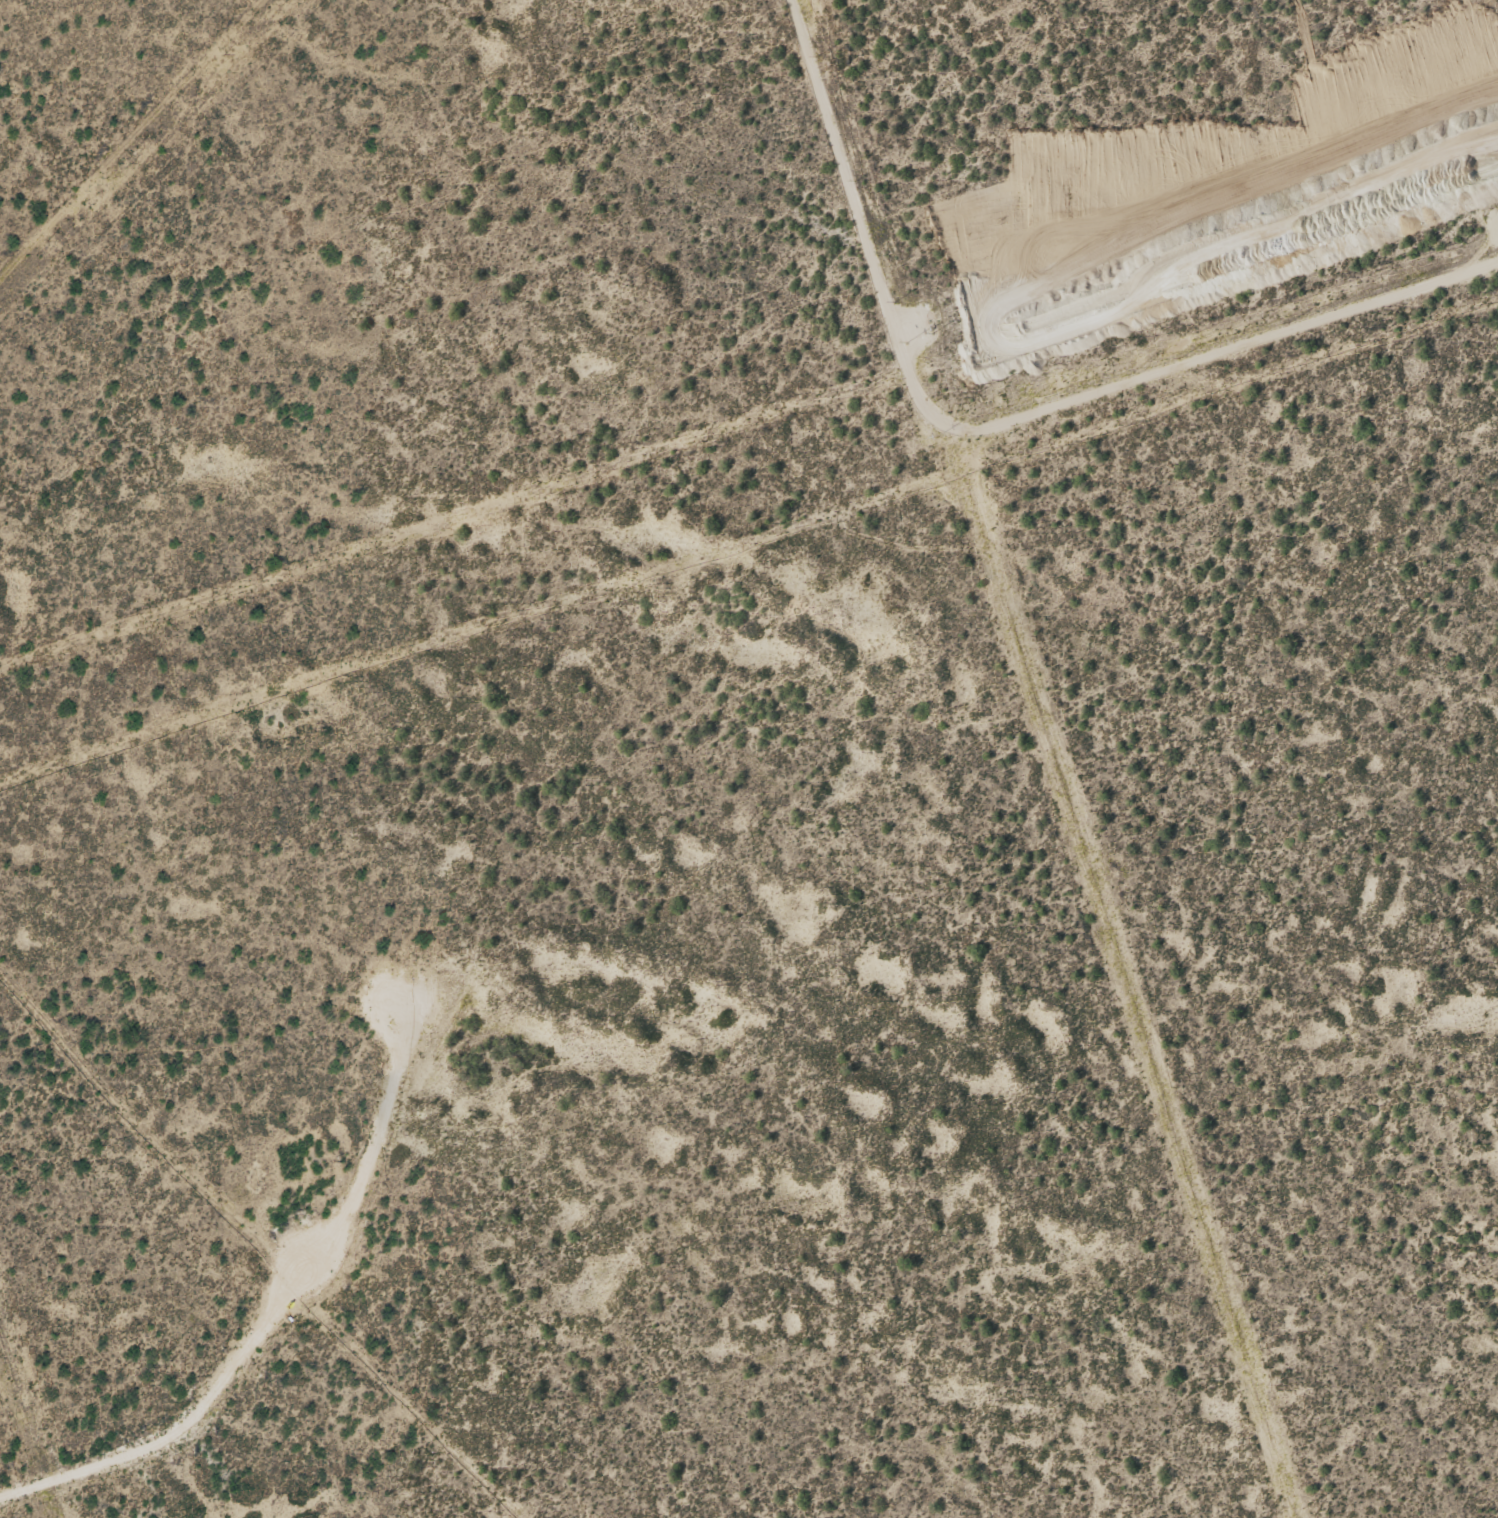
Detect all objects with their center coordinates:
quarry: (1484, 44)

